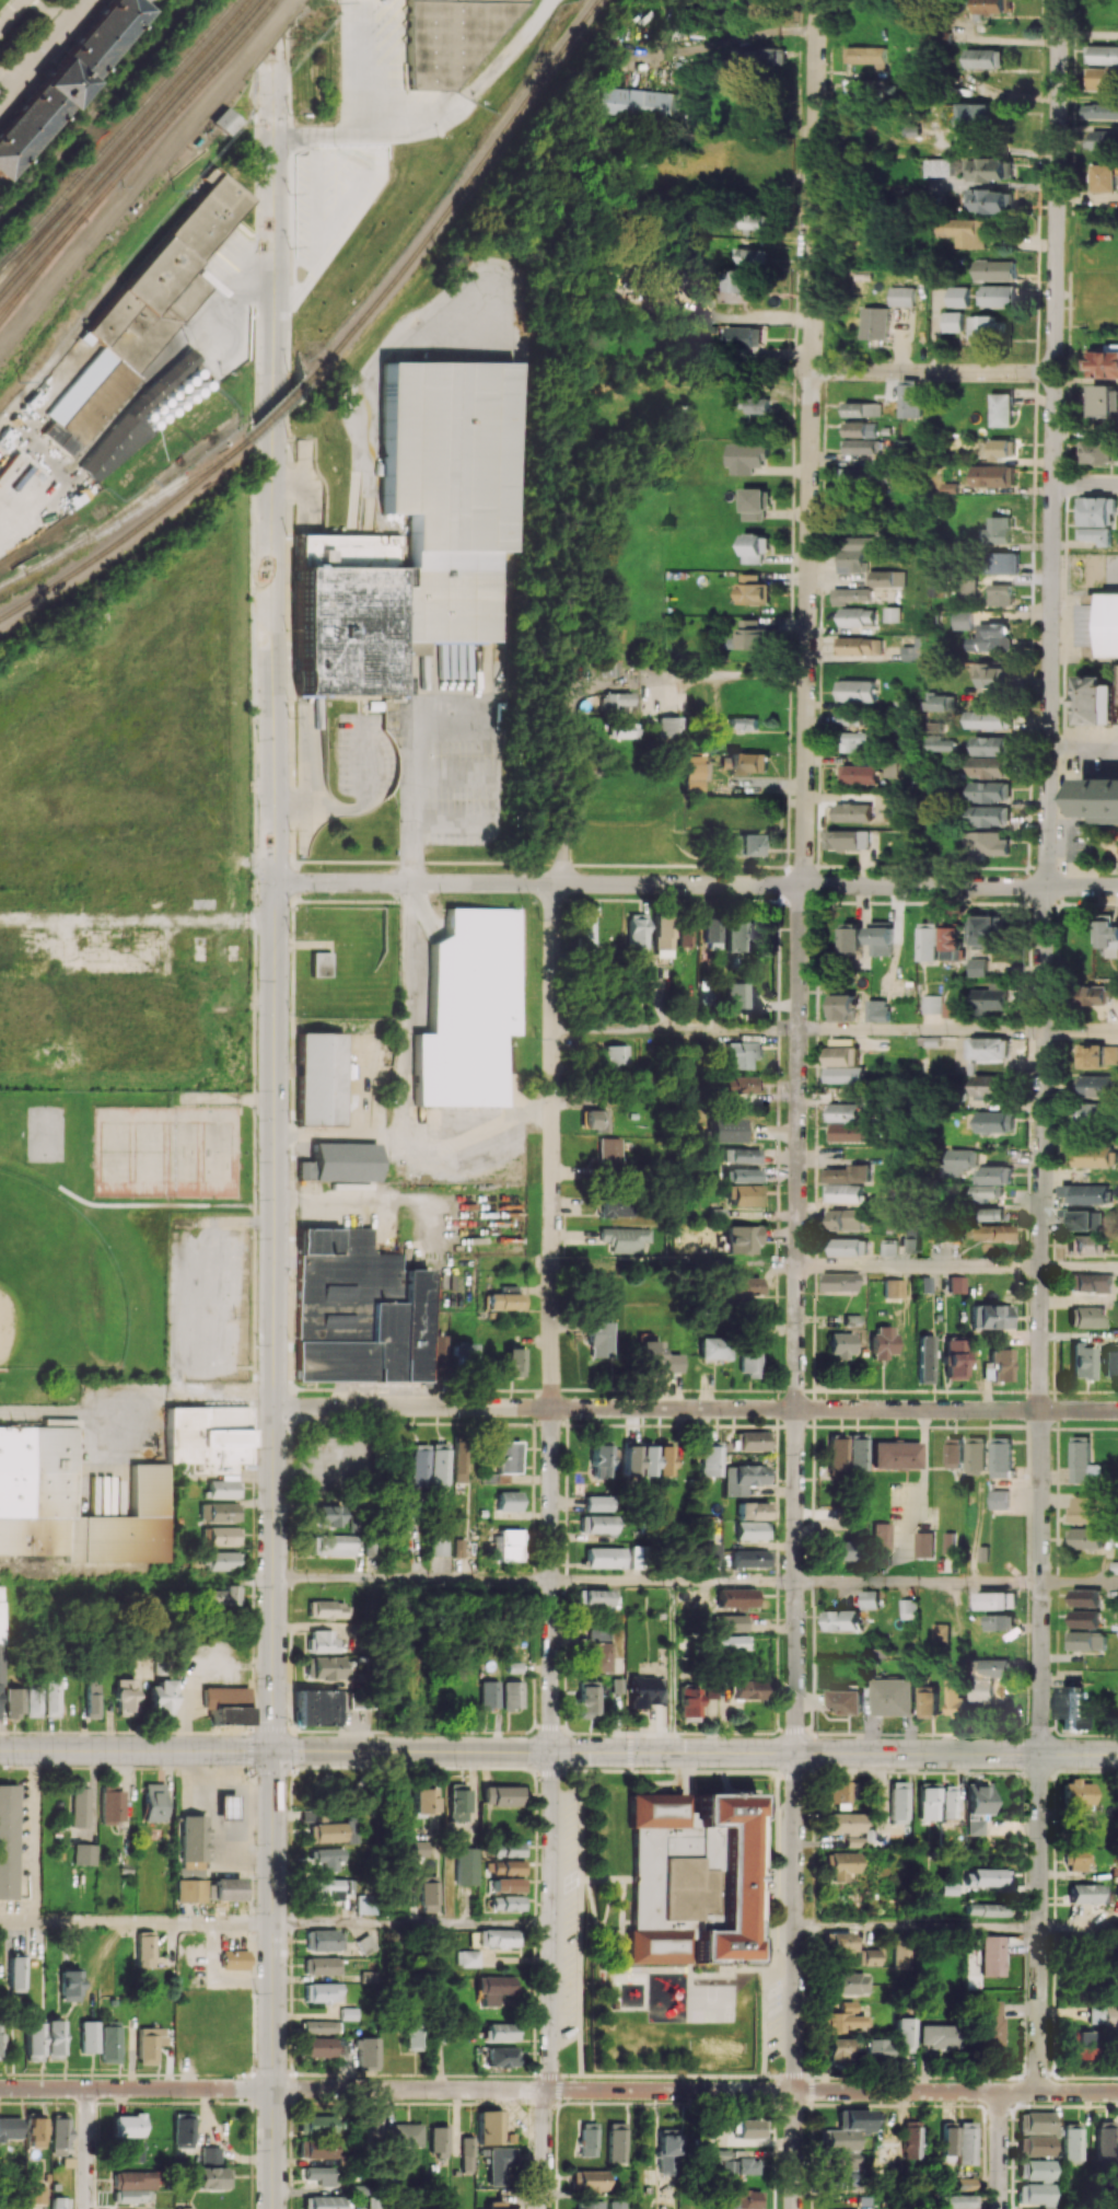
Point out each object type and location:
railway: (248, 0)
building: (991, 5)
railway: (254, 8)
road: (10, 12)
railway: (261, 15)
road: (276, 19)
road: (269, 21)
building: (455, 37)
road: (730, 38)
road: (510, 49)
road: (43, 50)
building: (1102, 54)
parking lot: (395, 55)
building: (762, 56)
building: (866, 56)
building: (985, 58)
building: (1100, 79)
building: (66, 81)
building: (632, 103)
road: (351, 104)
railway: (95, 109)
building: (1099, 111)
building: (974, 115)
railway: (165, 124)
building: (221, 124)
road: (414, 127)
railway: (117, 134)
power tower: (212, 134)
building: (1104, 139)
railway: (124, 141)
railway: (124, 157)
building: (938, 167)
building: (983, 169)
building: (1102, 176)
road: (128, 194)
railway: (461, 194)
parking lot: (336, 196)
building: (986, 200)
road: (348, 201)
road: (318, 206)
building: (130, 209)
building: (756, 222)
building: (964, 231)
railway: (35, 236)
building: (752, 255)
parking lot: (228, 262)
railway: (42, 264)
railway: (42, 268)
building: (994, 269)
building: (748, 280)
building: (901, 296)
building: (959, 296)
building: (998, 296)
road: (294, 301)
building: (145, 313)
building: (953, 321)
building: (875, 323)
building: (986, 327)
building: (747, 336)
building: (1104, 361)
road: (931, 370)
building: (197, 372)
storage tank: (197, 372)
building: (189, 379)
storage tank: (189, 379)
building: (206, 384)
storage tank: (206, 384)
building: (182, 386)
storage tank: (182, 386)
building: (198, 391)
storage tank: (198, 391)
building: (174, 394)
storage tank: (174, 394)
building: (190, 397)
storage tank: (190, 397)
building: (910, 400)
building: (1105, 400)
building: (166, 401)
storage tank: (166, 401)
building: (182, 404)
storage tank: (182, 404)
building: (757, 404)
building: (159, 408)
storage tank: (159, 408)
railway: (277, 408)
building: (862, 408)
building: (1001, 409)
building: (174, 410)
storage tank: (174, 410)
building: (151, 415)
storage tank: (151, 415)
building: (166, 417)
storage tank: (166, 417)
building: (136, 420)
building: (158, 424)
storage tank: (158, 424)
building: (858, 428)
building: (861, 447)
building: (1001, 448)
building: (1099, 451)
road: (523, 458)
building: (747, 458)
building: (865, 475)
building: (993, 476)
road: (1085, 484)
building: (755, 504)
railway: (123, 506)
railway: (133, 509)
building: (1097, 510)
building: (1000, 530)
railway: (128, 533)
building: (418, 533)
building: (1095, 534)
road: (256, 544)
building: (755, 546)
building: (859, 551)
road: (292, 557)
building: (1002, 562)
building: (886, 578)
building: (968, 588)
building: (753, 590)
building: (1001, 593)
building: (849, 594)
building: (890, 613)
building: (857, 616)
building: (965, 620)
building: (1109, 624)
building: (1091, 628)
building: (752, 634)
building: (991, 637)
building: (860, 646)
building: (909, 651)
building: (606, 668)
road: (726, 673)
building: (990, 674)
building: (854, 690)
building: (1098, 699)
building: (610, 702)
building: (939, 702)
road: (1048, 705)
building: (850, 717)
building: (988, 719)
building: (743, 722)
building: (667, 727)
building: (620, 730)
building: (851, 740)
building: (939, 742)
building: (991, 745)
building: (747, 762)
building: (990, 766)
building: (857, 773)
building: (692, 777)
building: (990, 791)
road: (564, 795)
building: (1100, 799)
road: (361, 805)
building: (853, 812)
building: (989, 816)
building: (987, 843)
building: (744, 845)
road: (802, 876)
road: (696, 883)
road: (276, 894)
building: (584, 930)
building: (989, 930)
building: (637, 933)
building: (710, 934)
building: (1109, 934)
building: (738, 935)
building: (662, 936)
building: (686, 936)
building: (852, 937)
building: (883, 938)
building: (929, 940)
building: (954, 941)
building: (319, 963)
building: (979, 967)
building: (1096, 994)
building: (736, 995)
building: (990, 999)
building: (932, 1004)
building: (843, 1007)
building: (470, 1008)
building: (880, 1009)
building: (950, 1009)
road: (677, 1029)
road: (921, 1031)
road: (1080, 1032)
building: (988, 1049)
building: (742, 1054)
building: (615, 1055)
building: (1097, 1055)
building: (843, 1074)
building: (321, 1078)
building: (742, 1084)
building: (1096, 1085)
road: (403, 1088)
building: (842, 1111)
building: (1094, 1113)
building: (597, 1120)
building: (995, 1121)
road: (338, 1129)
building: (727, 1130)
building: (852, 1132)
park: (44, 1133)
road: (255, 1147)
park: (165, 1152)
building: (610, 1152)
building: (741, 1155)
building: (1095, 1156)
building: (957, 1161)
building: (341, 1165)
building: (845, 1173)
building: (744, 1175)
building: (992, 1175)
building: (843, 1192)
building: (986, 1192)
building: (1085, 1193)
building: (745, 1194)
building: (616, 1205)
road: (121, 1206)
building: (990, 1214)
building: (847, 1218)
building: (1083, 1219)
building: (994, 1231)
park: (107, 1233)
building: (939, 1233)
building: (742, 1238)
building: (629, 1239)
building: (911, 1244)
building: (1086, 1244)
building: (848, 1246)
building: (888, 1248)
road: (675, 1264)
road: (919, 1268)
road: (1080, 1269)
building: (839, 1281)
building: (1088, 1282)
building: (956, 1284)
building: (745, 1285)
park: (58, 1286)
building: (893, 1287)
parking lot: (208, 1294)
building: (504, 1300)
building: (359, 1310)
building: (991, 1316)
road: (552, 1317)
building: (1085, 1317)
building: (599, 1331)
building: (883, 1341)
building: (841, 1344)
building: (714, 1348)
building: (463, 1355)
building: (749, 1356)
building: (924, 1358)
building: (954, 1358)
building: (657, 1360)
building: (1082, 1360)
building: (512, 1362)
building: (1109, 1362)
building: (998, 1365)
road: (656, 1408)
road: (1079, 1410)
building: (208, 1437)
building: (753, 1441)
building: (858, 1452)
building: (955, 1452)
building: (837, 1454)
building: (976, 1454)
building: (895, 1455)
building: (1001, 1456)
building: (508, 1457)
building: (630, 1458)
building: (601, 1459)
building: (711, 1459)
building: (459, 1460)
building: (648, 1460)
building: (663, 1460)
building: (428, 1465)
road: (253, 1468)
building: (496, 1478)
building: (743, 1478)
building: (223, 1489)
building: (1000, 1499)
building: (508, 1501)
building: (72, 1503)
building: (598, 1503)
building: (1086, 1510)
building: (753, 1511)
building: (219, 1512)
building: (327, 1515)
building: (597, 1524)
building: (750, 1530)
building: (220, 1536)
building: (1084, 1537)
building: (438, 1543)
building: (505, 1543)
building: (881, 1543)
building: (923, 1543)
building: (334, 1545)
building: (457, 1547)
building: (707, 1547)
building: (840, 1550)
building: (605, 1557)
building: (750, 1559)
building: (222, 1560)
road: (137, 1578)
road: (414, 1580)
road: (612, 1581)
road: (1040, 1582)
road: (734, 1583)
road: (918, 1584)
road: (1079, 1584)
building: (221, 1596)
building: (1085, 1597)
building: (735, 1598)
building: (869, 1598)
building: (593, 1599)
building: (997, 1599)
building: (908, 1608)
building: (327, 1609)
building: (1085, 1618)
building: (841, 1619)
building: (1000, 1621)
building: (729, 1622)
building: (598, 1632)
building: (940, 1632)
building: (1088, 1640)
building: (322, 1641)
building: (730, 1643)
building: (1, 1647)
building: (598, 1657)
building: (325, 1667)
road: (671, 1667)
building: (992, 1667)
building: (745, 1689)
building: (642, 1691)
building: (980, 1691)
building: (488, 1695)
building: (512, 1695)
building: (892, 1696)
building: (92, 1697)
building: (125, 1697)
building: (51, 1698)
building: (161, 1698)
building: (954, 1698)
building: (33, 1699)
building: (585, 1700)
building: (846, 1701)
building: (927, 1701)
building: (14, 1702)
building: (688, 1703)
building: (226, 1704)
building: (316, 1707)
building: (1071, 1707)
traffic signals: (275, 1750)
road: (559, 1751)
traffic signals: (632, 1751)
road: (211, 1784)
road: (237, 1790)
building: (837, 1791)
building: (1078, 1794)
building: (500, 1795)
building: (421, 1801)
building: (928, 1801)
building: (154, 1802)
building: (457, 1802)
building: (898, 1802)
building: (948, 1802)
building: (80, 1806)
building: (112, 1806)
building: (226, 1806)
building: (976, 1807)
building: (313, 1815)
building: (841, 1823)
road: (242, 1829)
building: (326, 1832)
building: (350, 1834)
road: (34, 1836)
building: (191, 1838)
building: (8, 1842)
building: (419, 1849)
building: (504, 1849)
building: (84, 1853)
building: (327, 1858)
building: (1078, 1861)
building: (841, 1864)
building: (464, 1865)
building: (502, 1866)
building: (691, 1875)
building: (988, 1880)
building: (505, 1885)
building: (329, 1888)
building: (225, 1889)
building: (189, 1890)
building: (429, 1893)
building: (1086, 1893)
building: (505, 1902)
building: (360, 1904)
building: (986, 1909)
road: (551, 1920)
road: (1039, 1921)
road: (137, 1922)
road: (412, 1924)
road: (917, 1927)
building: (497, 1938)
building: (324, 1940)
building: (839, 1941)
building: (366, 1943)
building: (144, 1948)
building: (901, 1953)
building: (991, 1955)
building: (870, 1956)
building: (467, 1958)
building: (234, 1959)
building: (322, 1966)
building: (16, 1973)
building: (369, 1976)
road: (273, 1979)
road: (795, 1980)
building: (847, 1982)
building: (68, 1985)
building: (496, 1990)
building: (322, 1992)
building: (1104, 2015)
building: (843, 2019)
building: (990, 2024)
building: (318, 2026)
building: (501, 2031)
building: (905, 2034)
building: (936, 2035)
building: (88, 2036)
building: (414, 2036)
building: (53, 2038)
building: (33, 2040)
building: (108, 2043)
building: (148, 2044)
building: (1082, 2045)
building: (316, 2047)
building: (877, 2049)
building: (840, 2051)
building: (368, 2052)
building: (502, 2056)
road: (137, 2087)
road: (696, 2090)
building: (1036, 2121)
building: (127, 2125)
building: (317, 2125)
building: (370, 2125)
building: (489, 2127)
building: (9, 2128)
building: (745, 2128)
building: (846, 2129)
building: (183, 2130)
building: (34, 2132)
building: (59, 2135)
building: (403, 2135)
building: (589, 2139)
building: (911, 2139)
building: (439, 2140)
building: (1105, 2140)
building: (616, 2141)
building: (947, 2141)
building: (966, 2143)
building: (1072, 2143)
building: (1035, 2146)
road: (88, 2148)
building: (317, 2149)
road: (545, 2149)
road: (1000, 2150)
building: (128, 2151)
building: (667, 2151)
building: (210, 2154)
building: (467, 2154)
building: (720, 2154)
building: (842, 2160)
building: (738, 2165)
building: (500, 2166)
building: (1035, 2170)
building: (318, 2175)
building: (212, 2177)
building: (133, 2179)
building: (589, 2181)
building: (846, 2181)
building: (966, 2183)
building: (1035, 2193)
building: (35, 2194)
building: (132, 2195)
building: (743, 2199)
building: (322, 2201)
building: (958, 2201)
building: (58, 2202)
building: (617, 2204)
building: (590, 2205)

